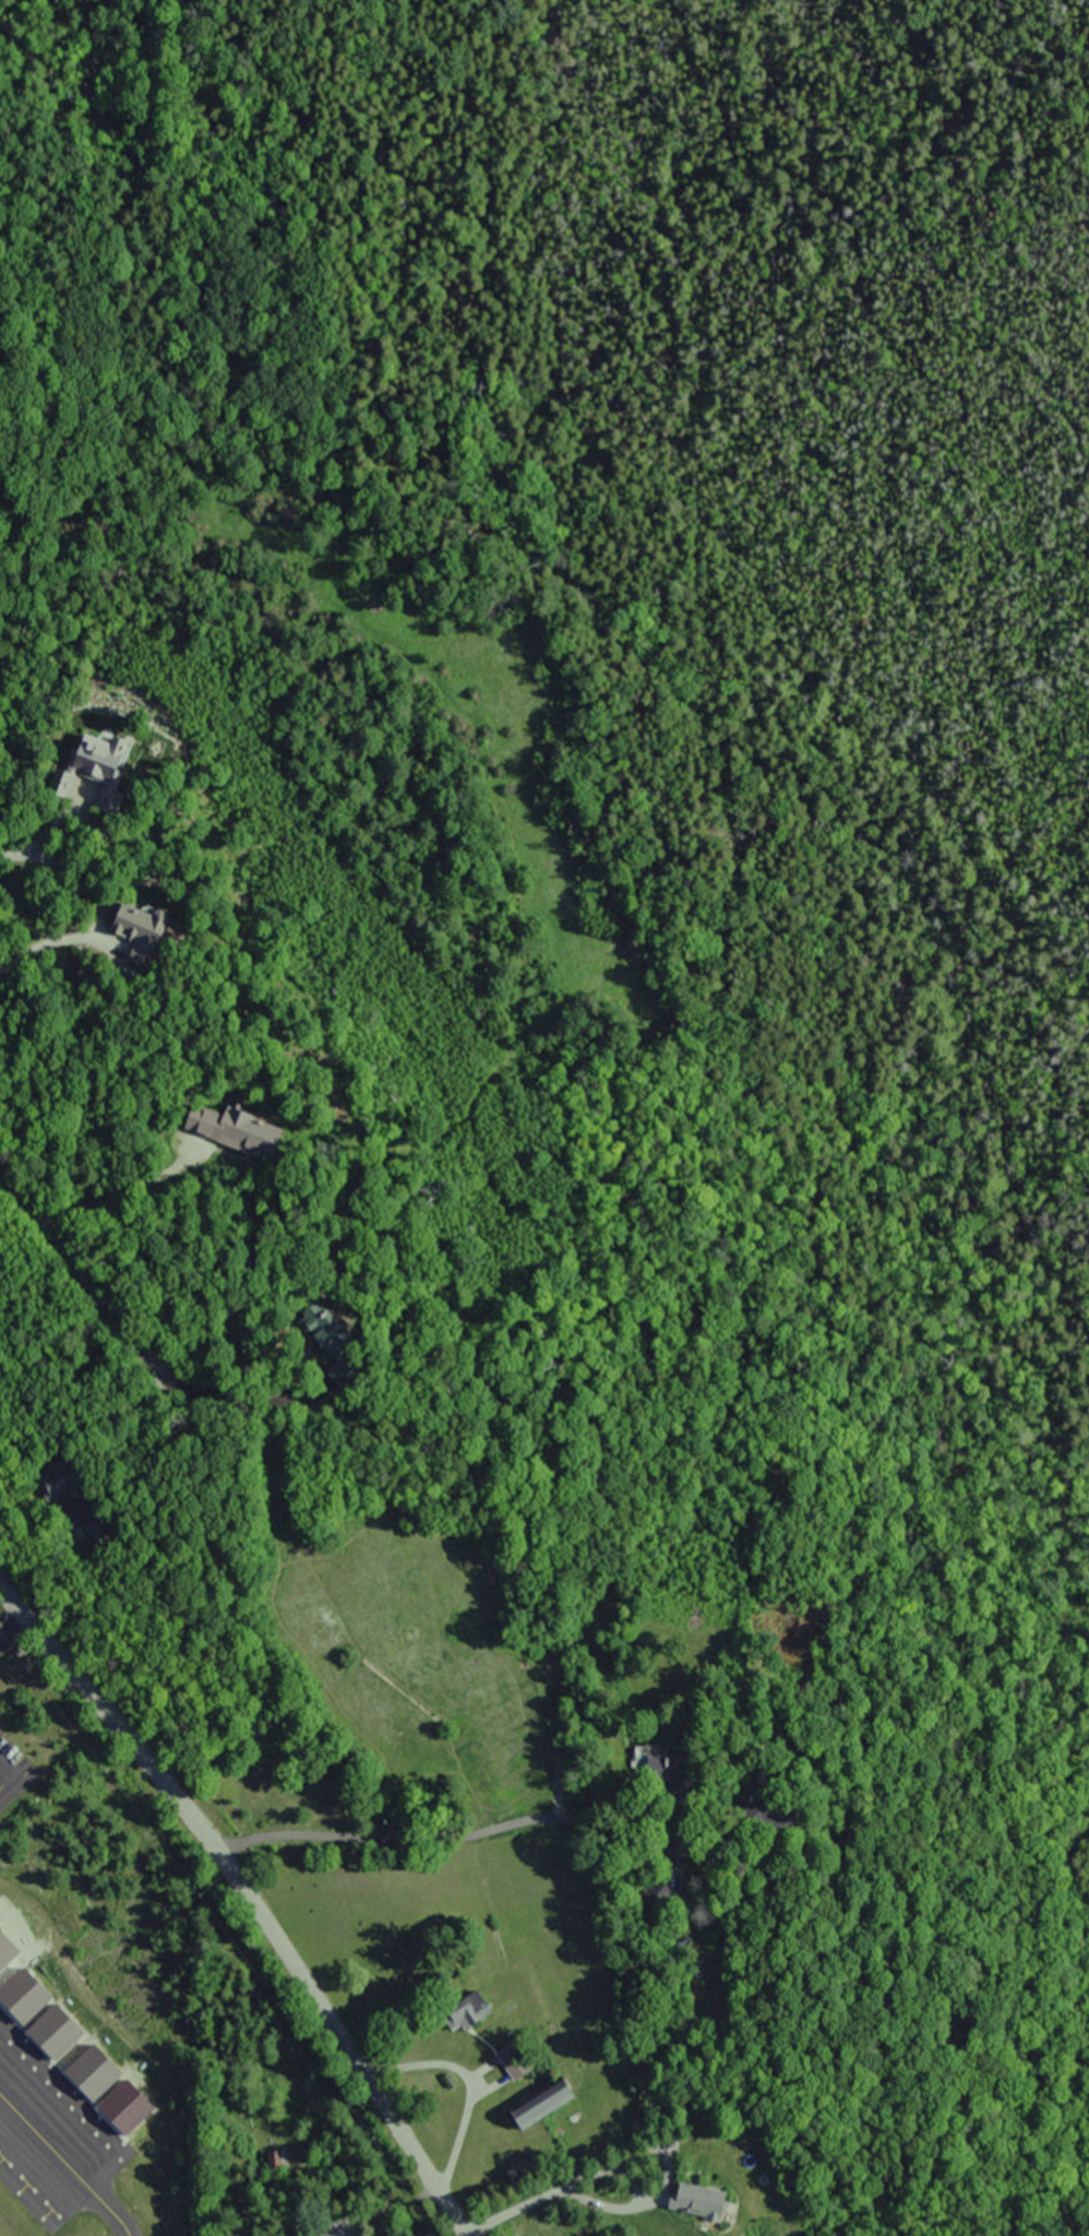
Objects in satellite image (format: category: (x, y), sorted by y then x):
road: (41, 843)
road: (33, 951)
building: (232, 1131)
road: (113, 1193)
road: (81, 1270)
road: (12, 1631)
parking lot: (13, 1776)
road: (404, 1840)
road: (250, 1900)
airport: (85, 2002)
building: (464, 2012)
road: (468, 2083)
building: (534, 2105)
airport apron: (50, 2133)
building: (693, 2201)
road: (516, 2208)
airport taxiway: (115, 2212)

